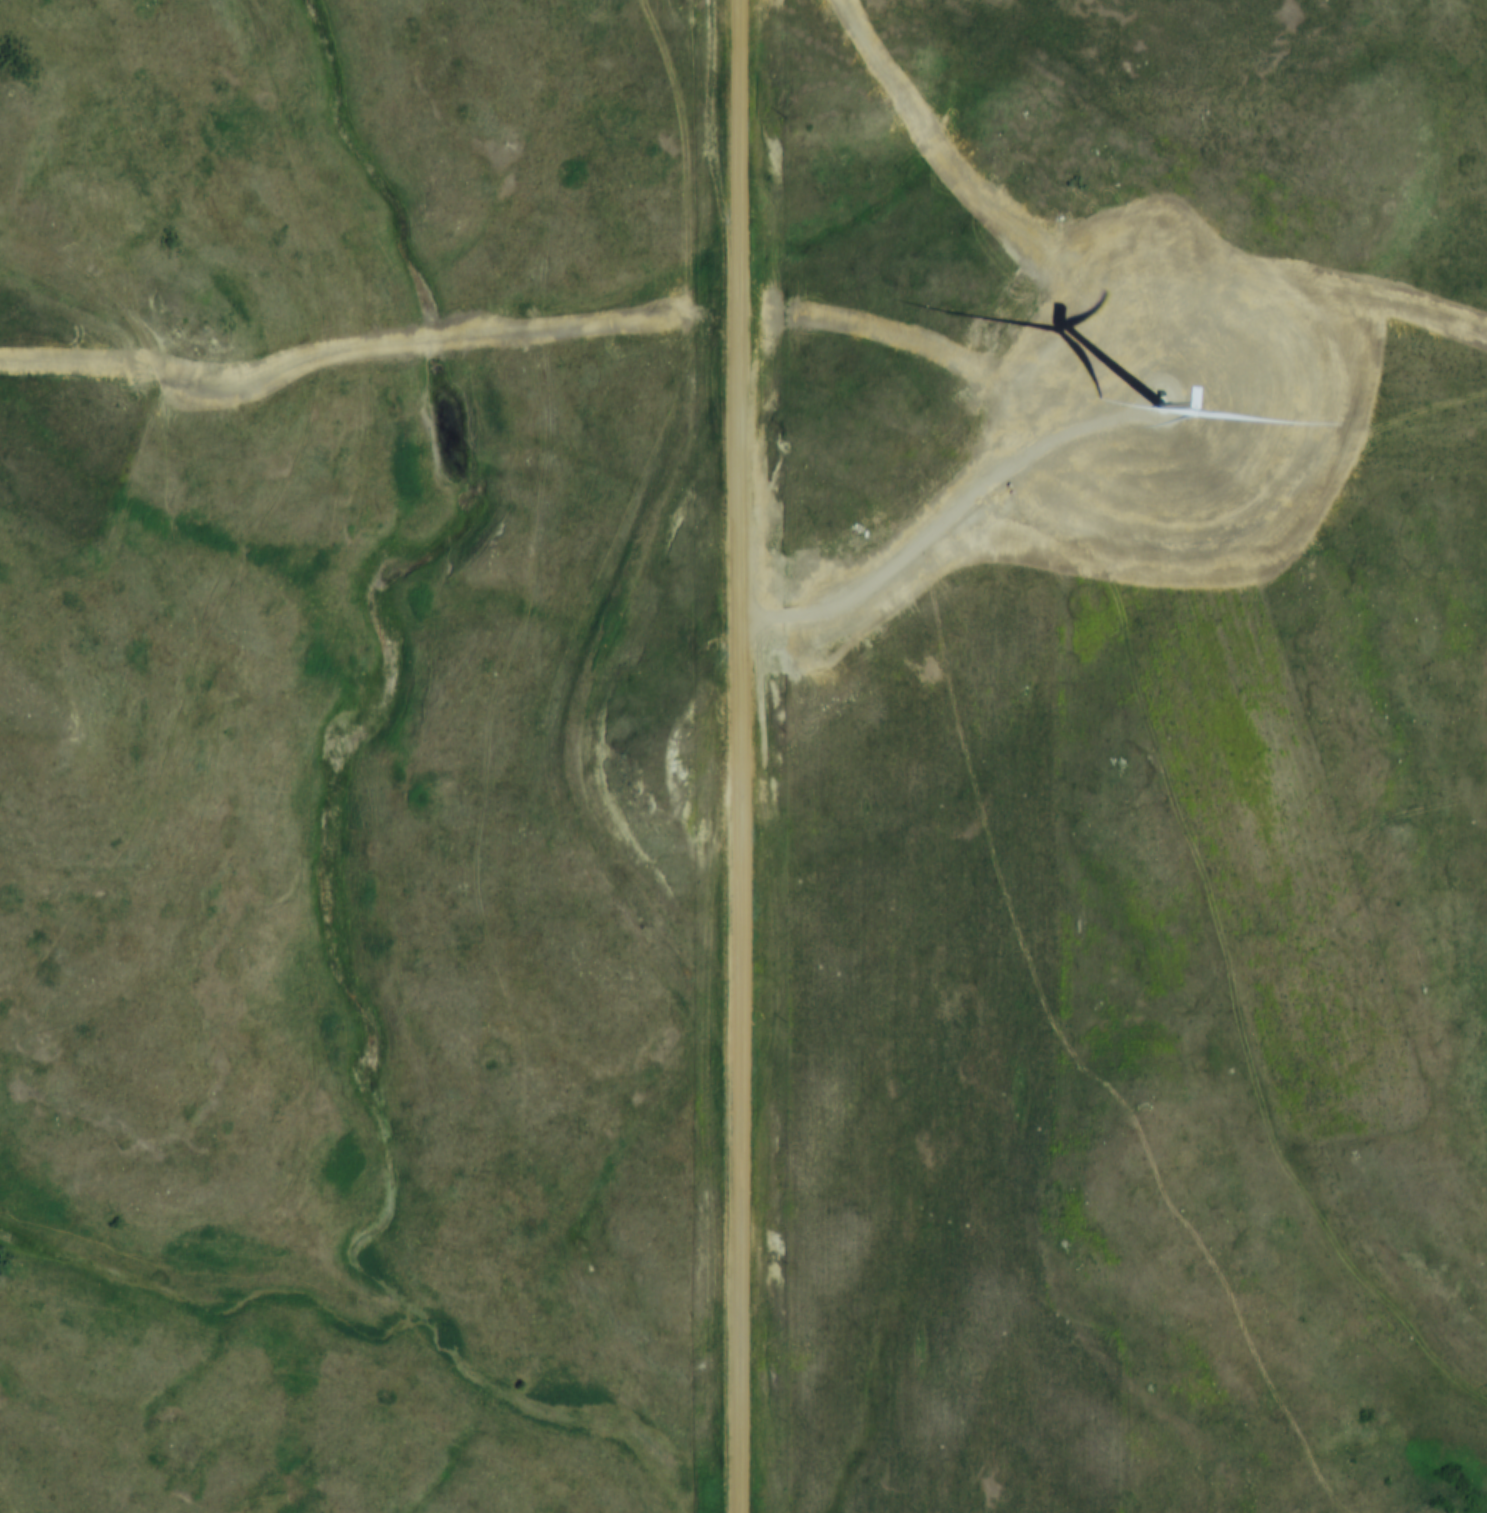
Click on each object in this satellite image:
road: (371, 349)
wind turbine: (1164, 405)
road: (933, 542)
road: (741, 756)

